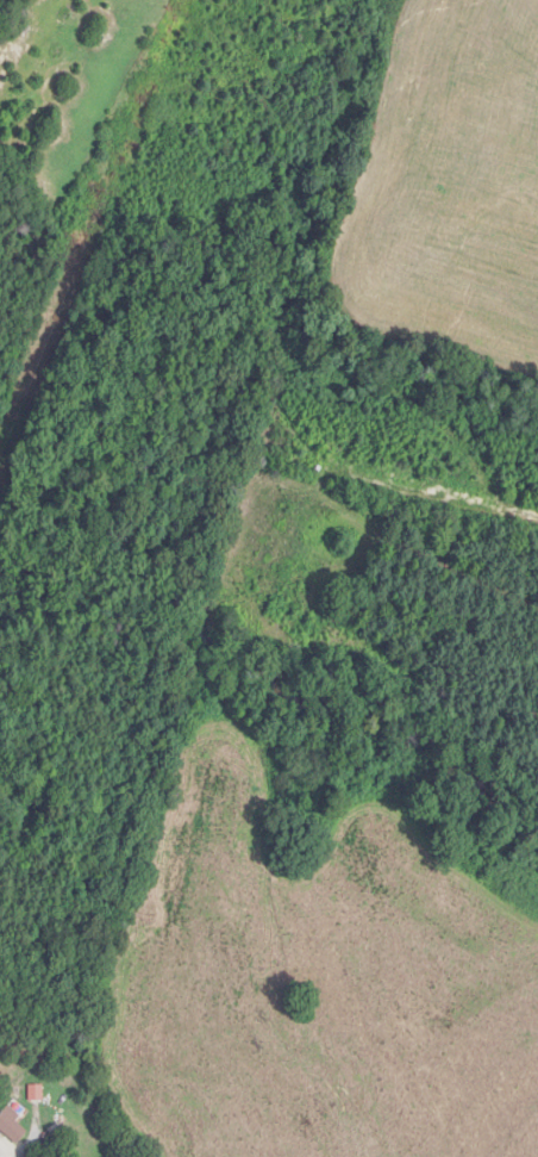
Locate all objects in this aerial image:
building: (12, 1125)

